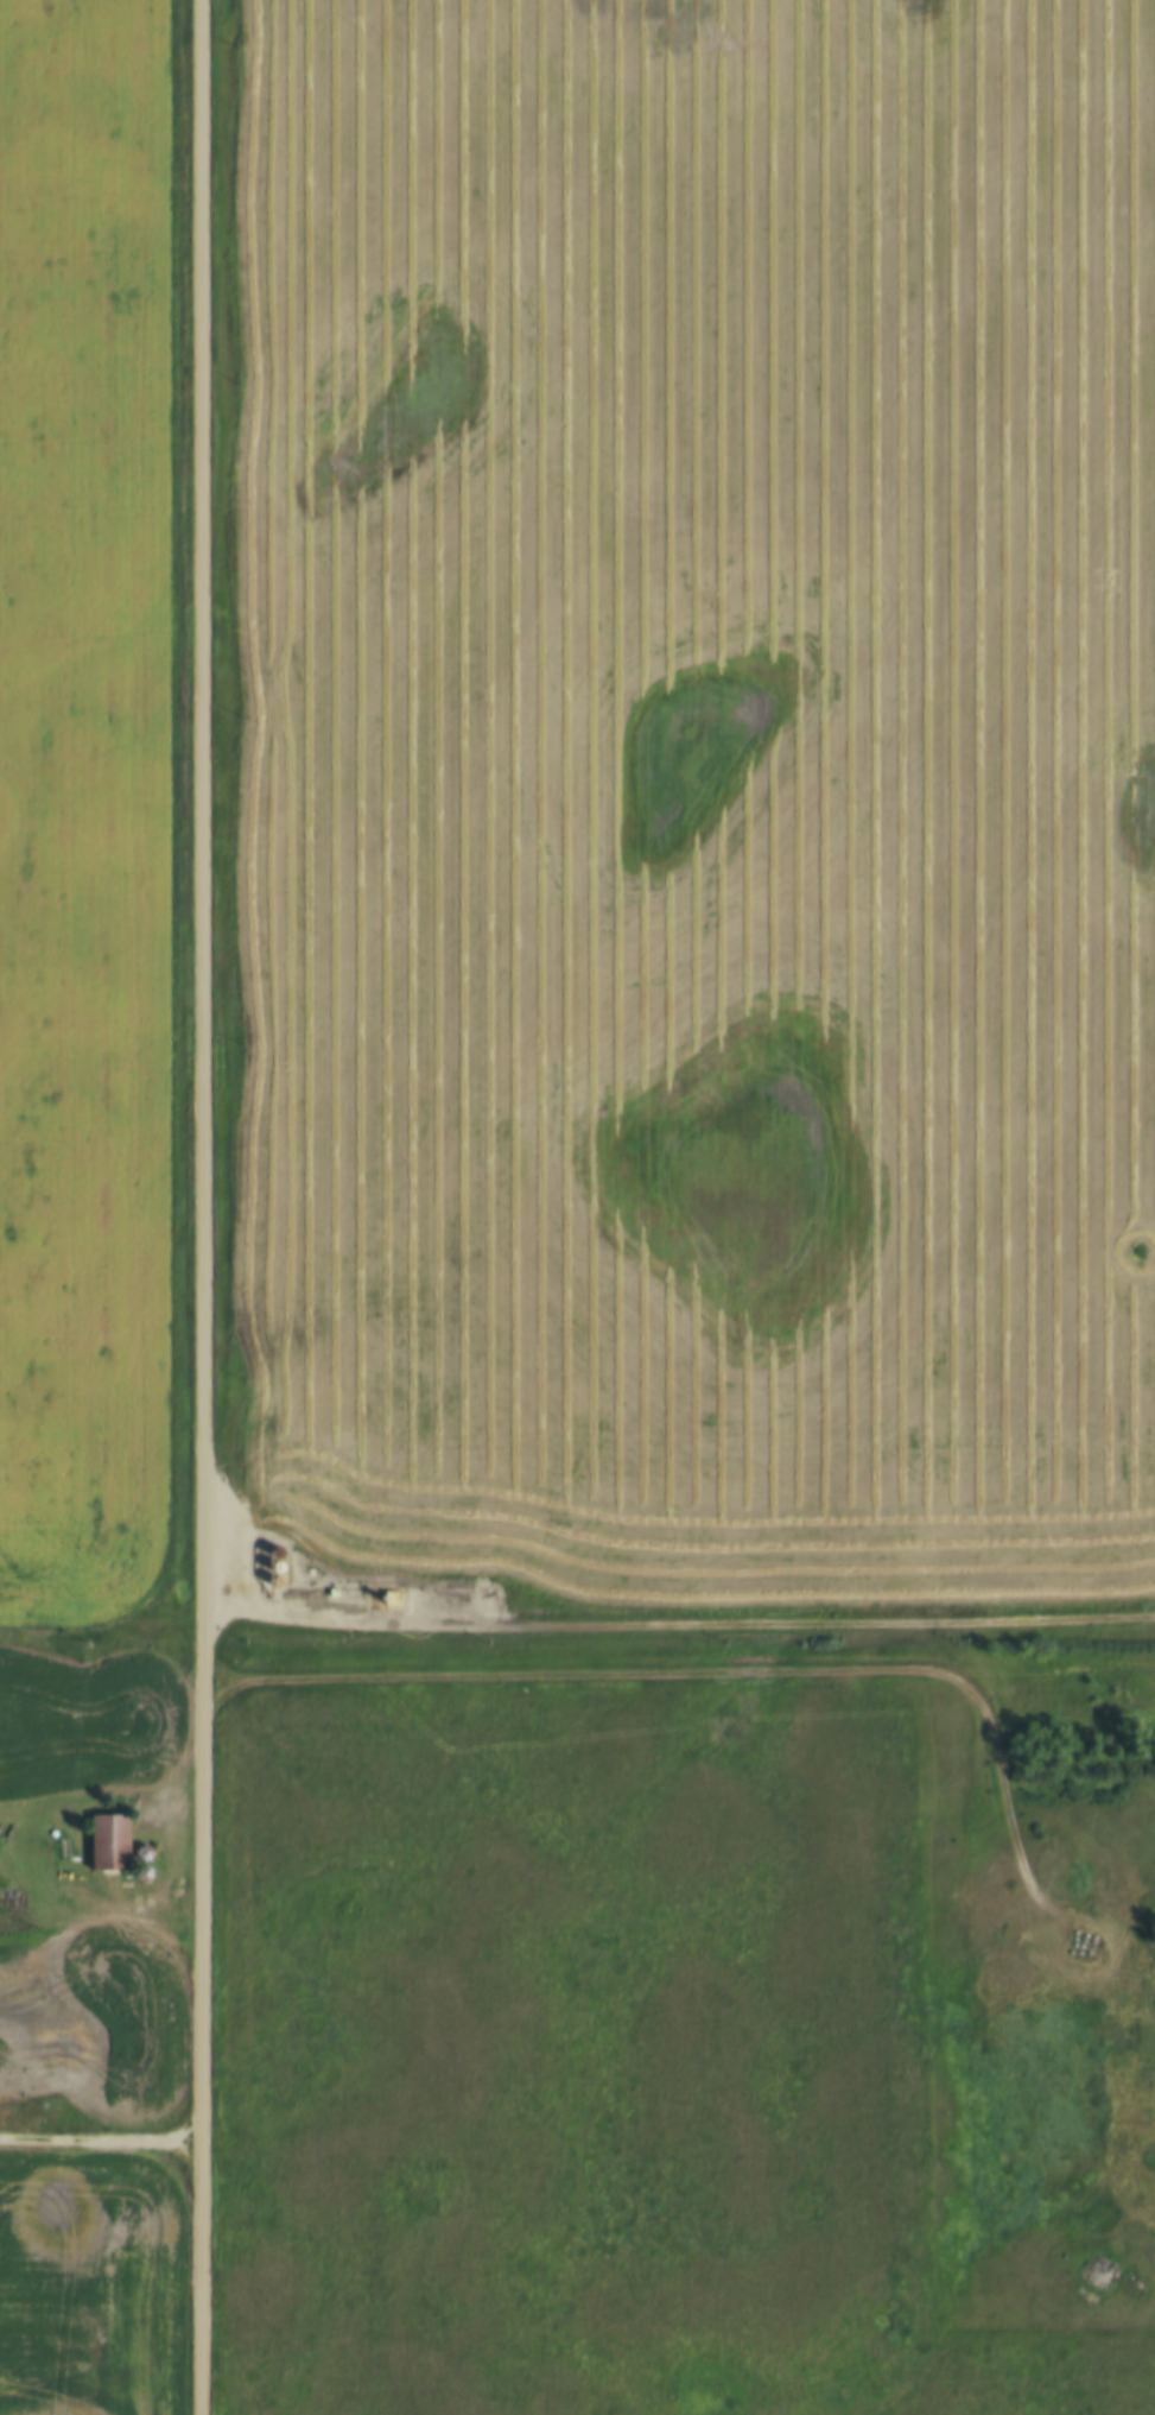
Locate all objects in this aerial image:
road: (201, 1207)
road: (678, 1625)
road: (702, 1675)
building: (135, 1802)
building: (101, 1828)
building: (134, 1859)
silo: (134, 1859)
road: (96, 2135)

